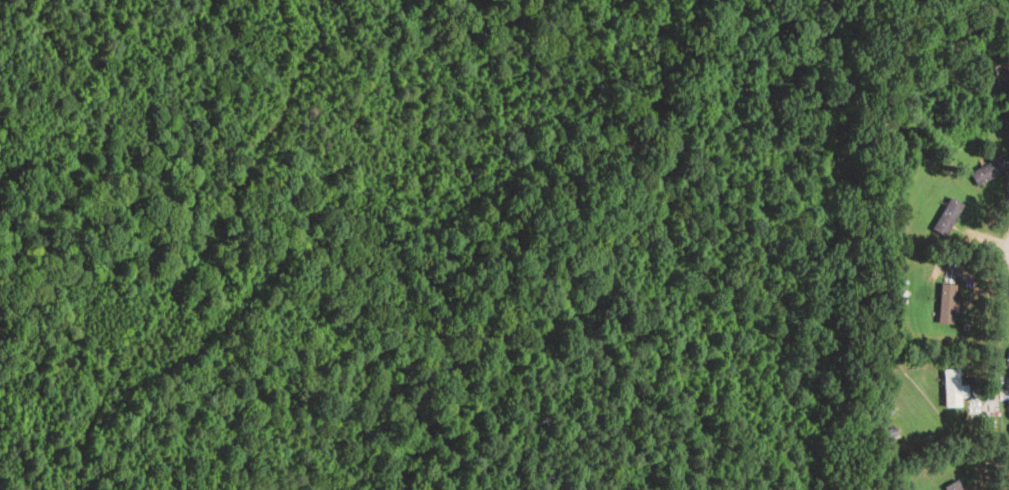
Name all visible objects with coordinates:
building: (991, 169)
building: (948, 217)
road: (984, 240)
road: (978, 283)
building: (947, 304)
building: (954, 389)
road: (992, 398)
building: (954, 486)

